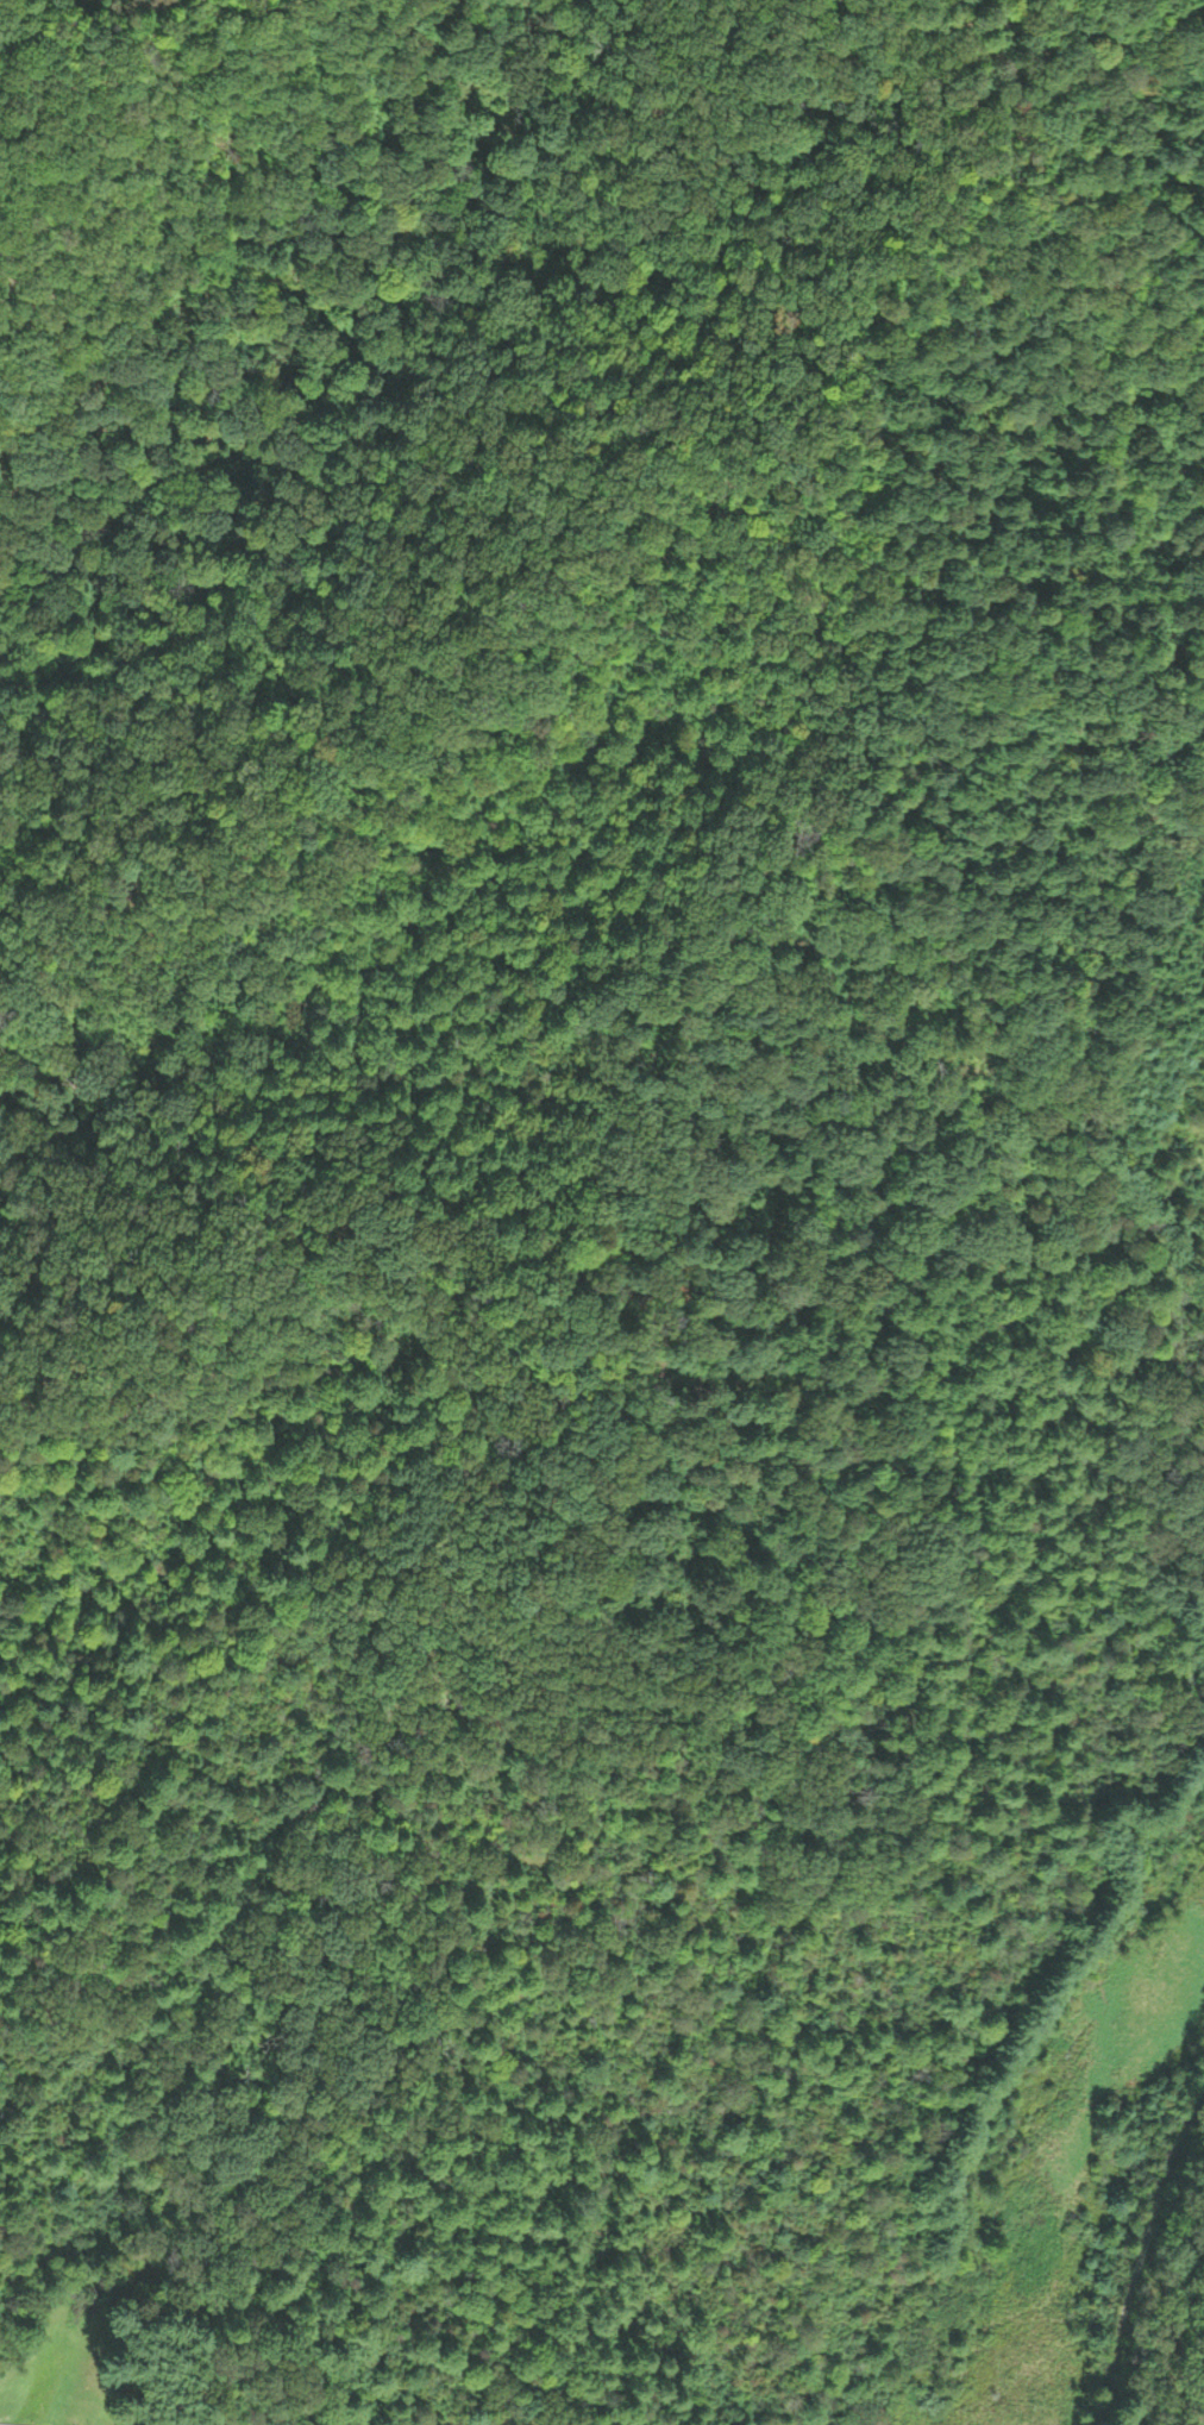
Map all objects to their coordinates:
road: (1146, 2258)

